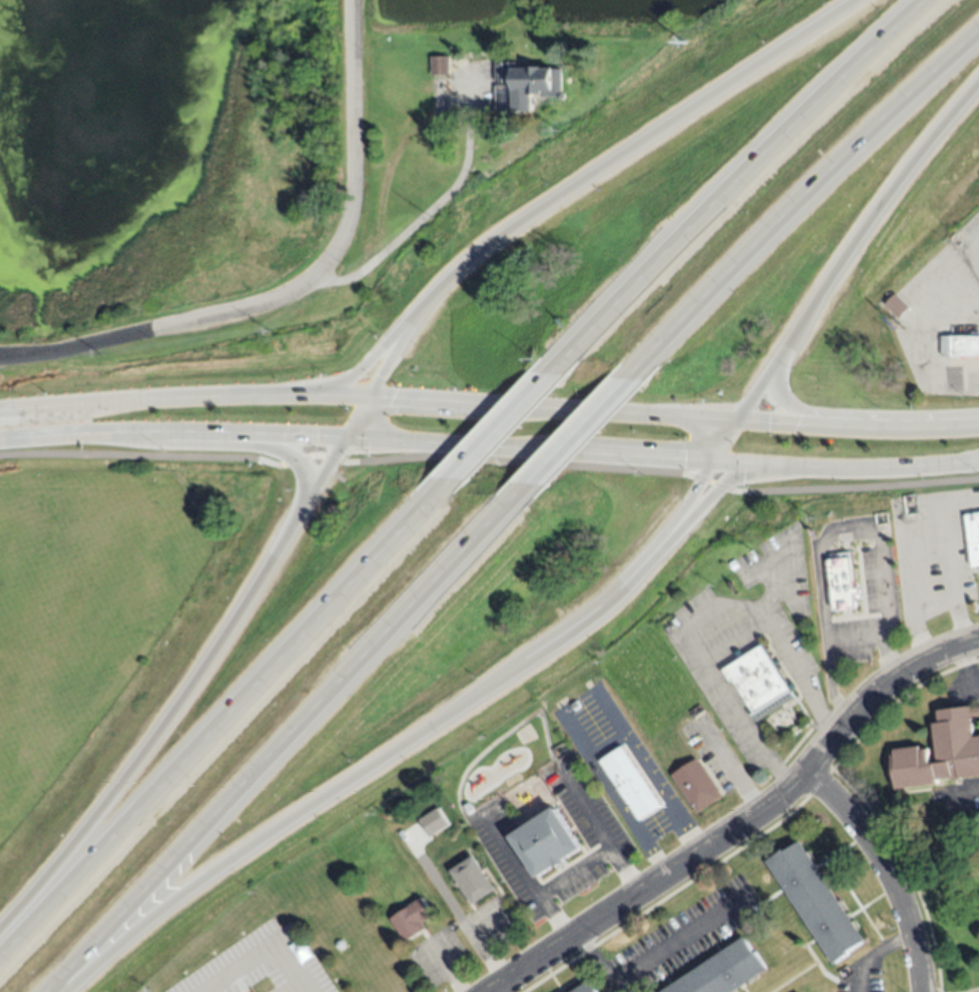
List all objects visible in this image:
power tower: (684, 43)
building: (439, 66)
building: (526, 85)
building: (422, 100)
power tower: (559, 130)
road: (593, 179)
road: (743, 189)
road: (390, 198)
road: (450, 202)
road: (797, 206)
power tower: (432, 219)
road: (852, 248)
road: (305, 295)
building: (896, 304)
power tower: (268, 331)
road: (927, 344)
building: (959, 345)
power tower: (100, 354)
road: (366, 361)
road: (344, 401)
traffic signals: (365, 401)
road: (782, 401)
road: (160, 403)
road: (552, 412)
traffic signals: (741, 420)
road: (351, 422)
road: (859, 427)
road: (504, 428)
road: (134, 437)
road: (575, 441)
road: (303, 443)
traffic signals: (337, 444)
road: (724, 444)
road: (522, 453)
road: (491, 461)
road: (302, 465)
traffic signals: (707, 468)
road: (723, 469)
road: (319, 475)
road: (859, 475)
road: (698, 507)
road: (827, 532)
building: (972, 537)
road: (949, 558)
building: (842, 581)
road: (693, 613)
road: (913, 618)
road: (855, 639)
road: (967, 668)
building: (759, 682)
road: (229, 715)
road: (164, 725)
road: (287, 742)
road: (400, 743)
building: (942, 751)
building: (630, 783)
building: (696, 785)
road: (971, 788)
building: (431, 823)
road: (741, 824)
road: (601, 834)
building: (544, 843)
road: (886, 869)
road: (573, 873)
road: (522, 879)
building: (470, 880)
building: (815, 902)
park: (939, 904)
road: (456, 913)
building: (410, 919)
road: (483, 922)
road: (260, 950)
road: (652, 953)
road: (874, 953)
building: (722, 971)
building: (584, 988)

